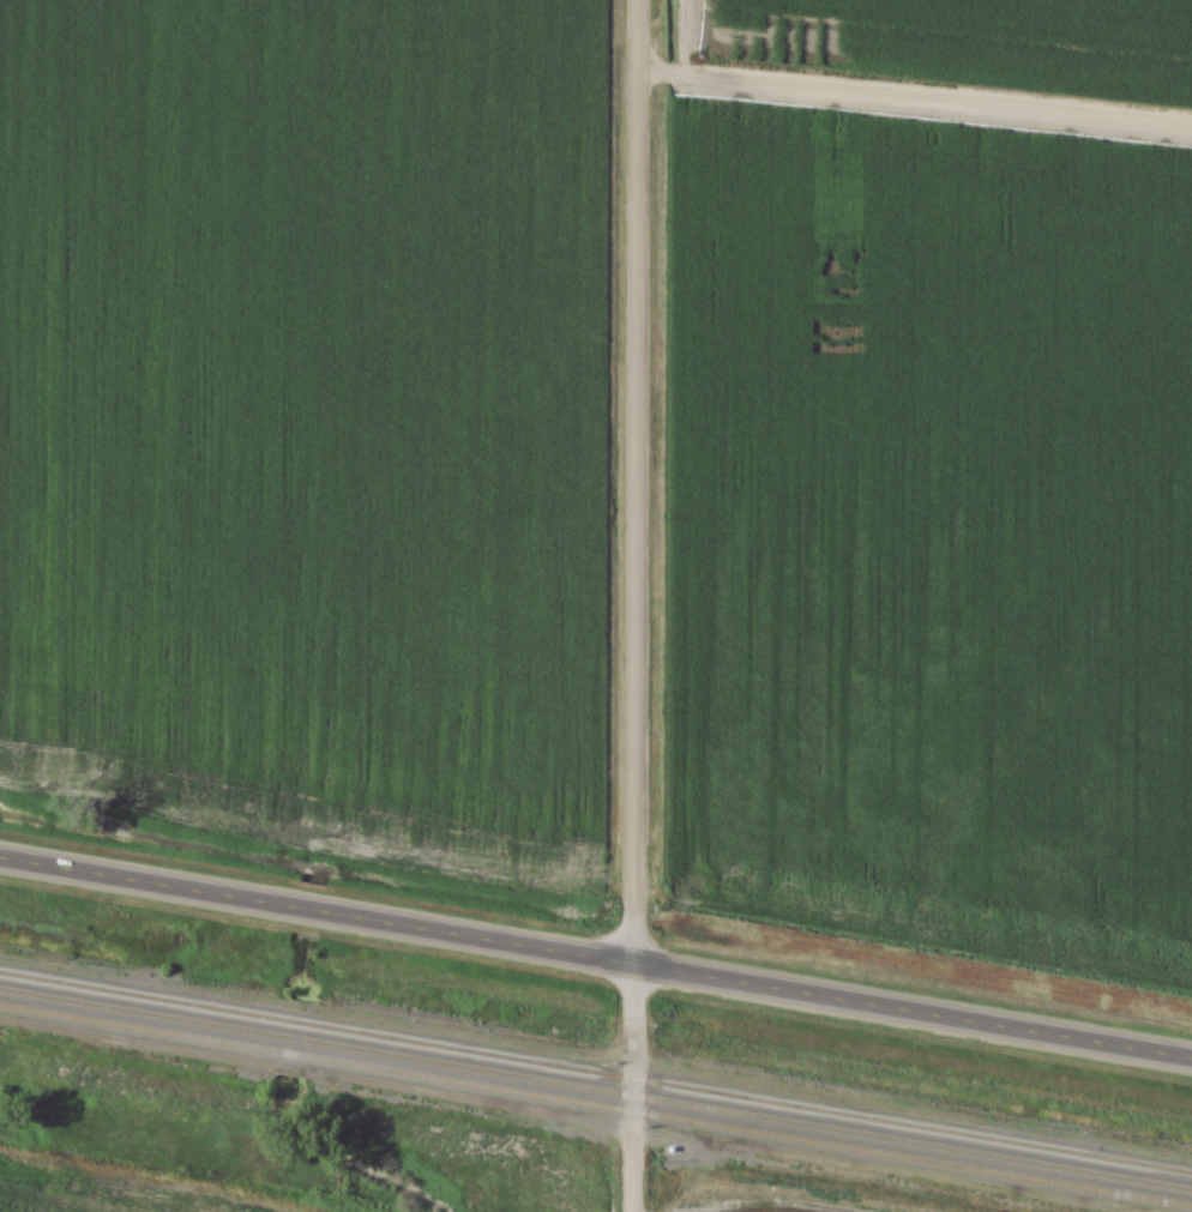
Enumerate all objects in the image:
crop: (927, 523)
road: (628, 605)
road: (596, 957)
railway: (596, 1072)
railway: (595, 1089)
railway: (595, 1105)

